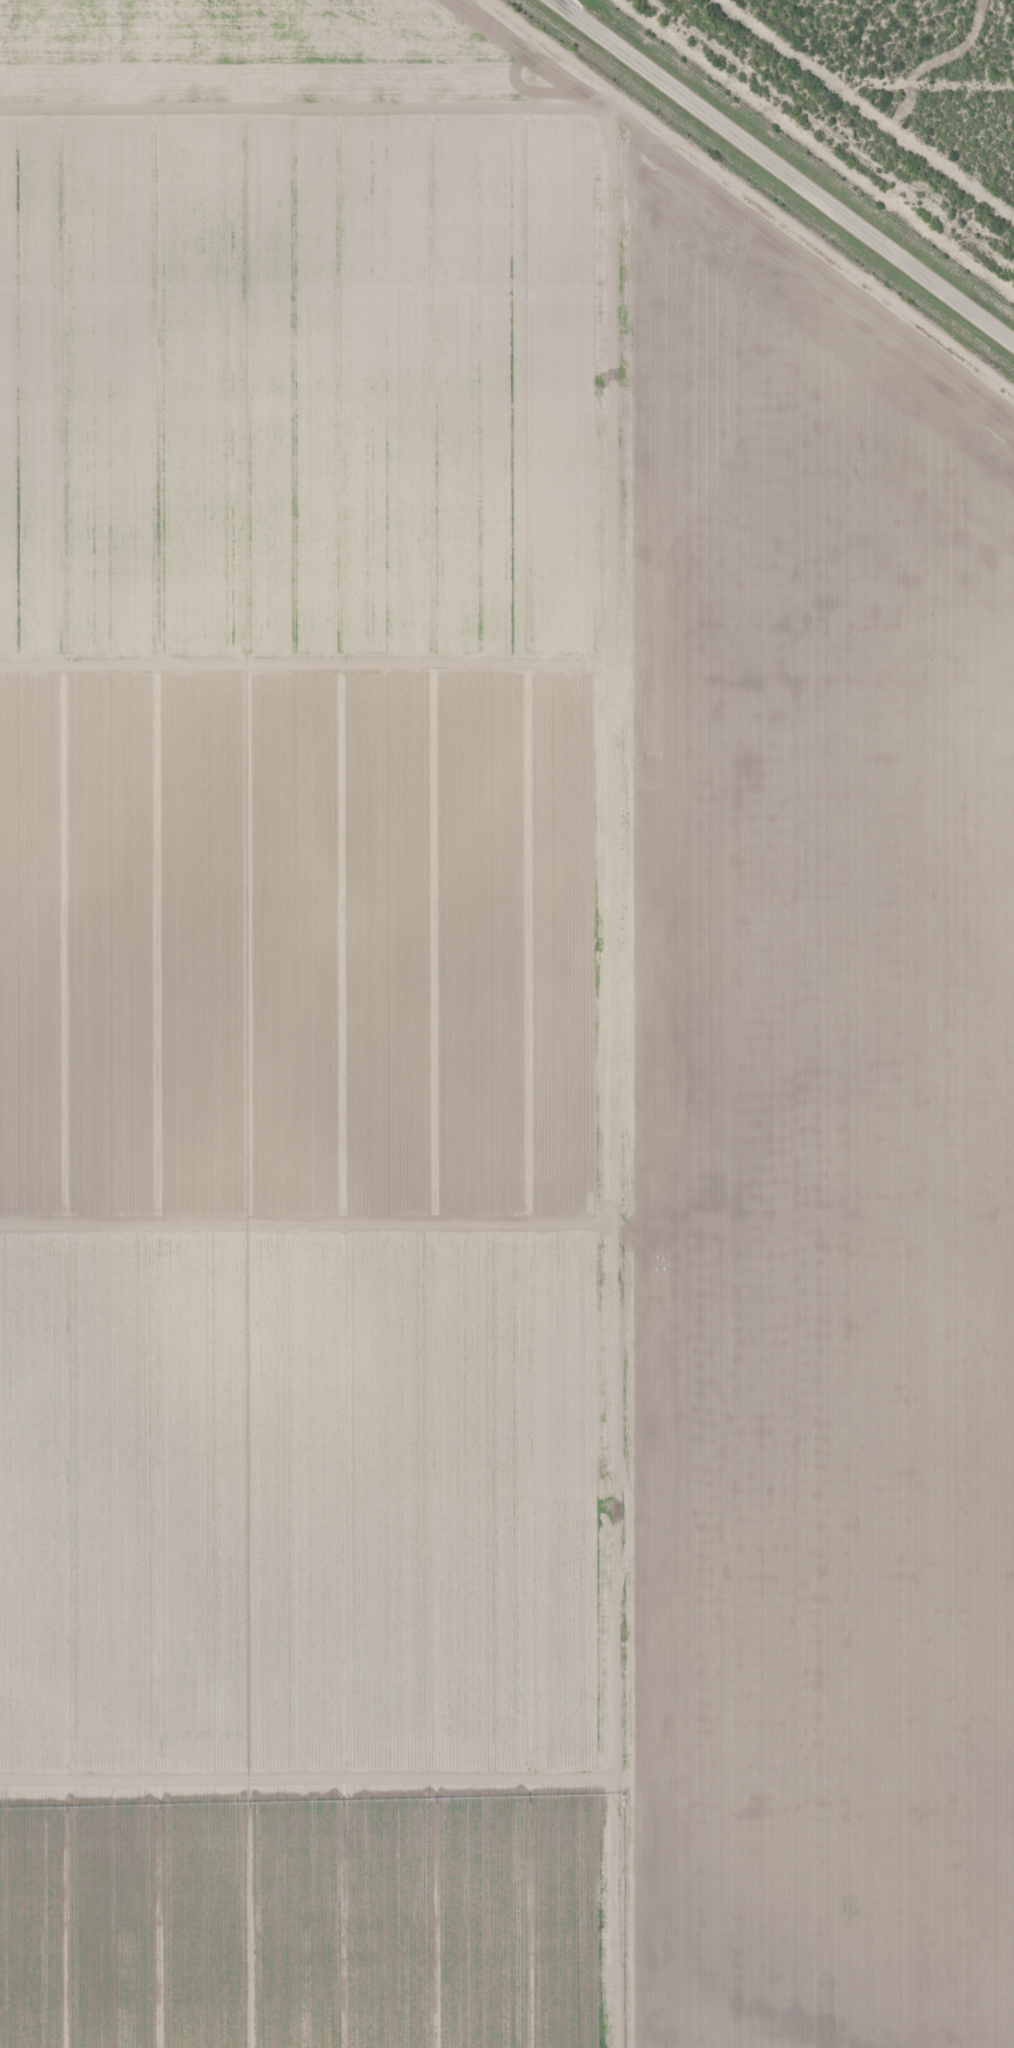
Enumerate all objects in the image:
road: (789, 167)

